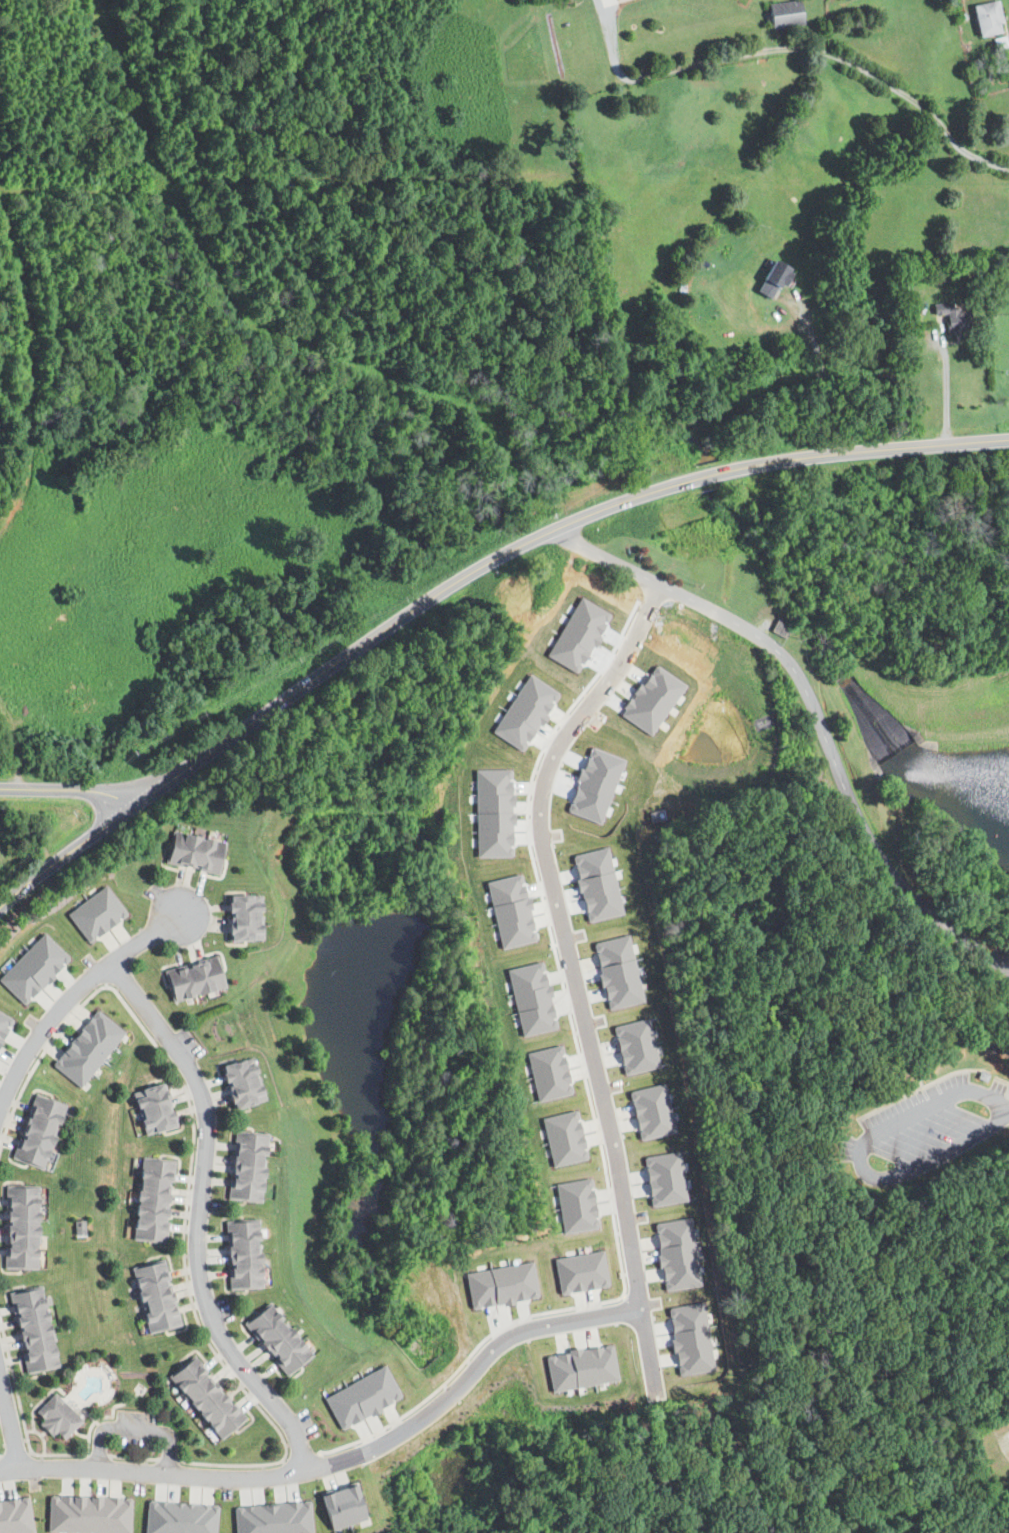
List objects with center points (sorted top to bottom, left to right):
building: (786, 12)
building: (989, 17)
road: (801, 48)
building: (775, 278)
building: (953, 316)
road: (819, 379)
road: (945, 392)
road: (547, 537)
road: (815, 718)
road: (74, 789)
building: (193, 852)
road: (73, 853)
building: (96, 914)
building: (243, 918)
building: (34, 969)
road: (583, 969)
building: (192, 978)
road: (70, 996)
park: (854, 1022)
building: (4, 1025)
building: (88, 1049)
building: (549, 1073)
building: (982, 1077)
building: (241, 1083)
building: (154, 1109)
parking lot: (924, 1130)
building: (37, 1132)
road: (861, 1157)
building: (245, 1167)
building: (665, 1177)
building: (152, 1201)
building: (577, 1204)
road: (197, 1221)
building: (20, 1228)
building: (677, 1253)
building: (241, 1255)
building: (581, 1271)
building: (502, 1284)
building: (155, 1297)
building: (33, 1331)
building: (691, 1338)
building: (275, 1340)
building: (581, 1367)
building: (361, 1397)
building: (205, 1399)
building: (57, 1418)
road: (10, 1423)
road: (135, 1429)
road: (350, 1461)
building: (343, 1506)
building: (89, 1514)
building: (15, 1516)
building: (180, 1517)
building: (273, 1518)

